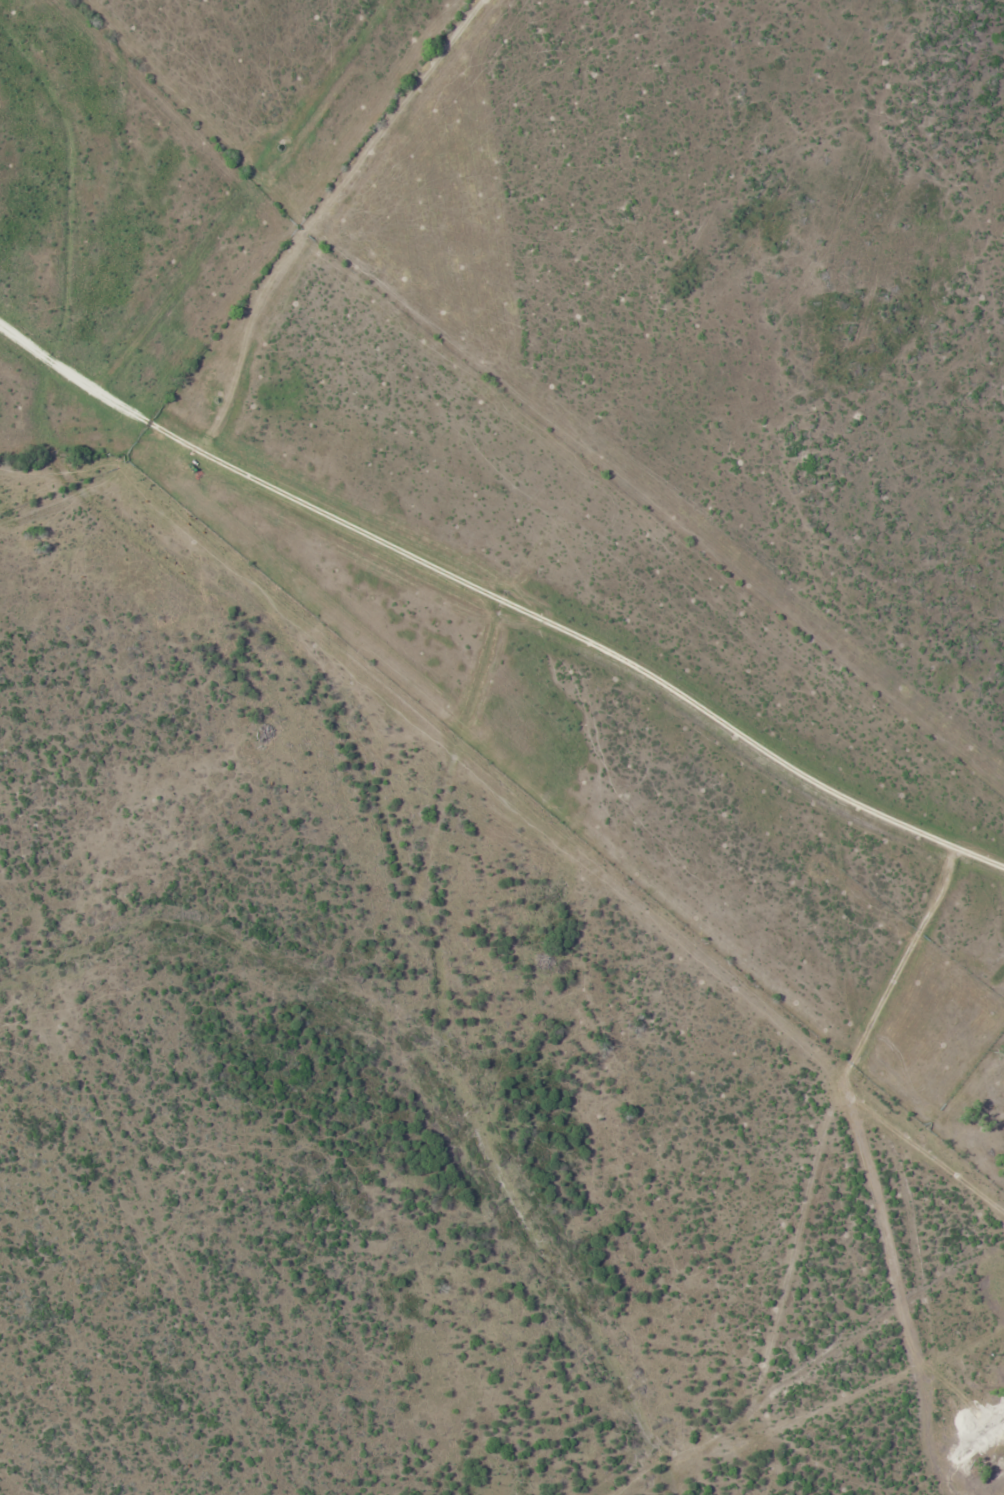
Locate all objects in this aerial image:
road: (498, 644)
building: (995, 1406)
building: (961, 1438)

